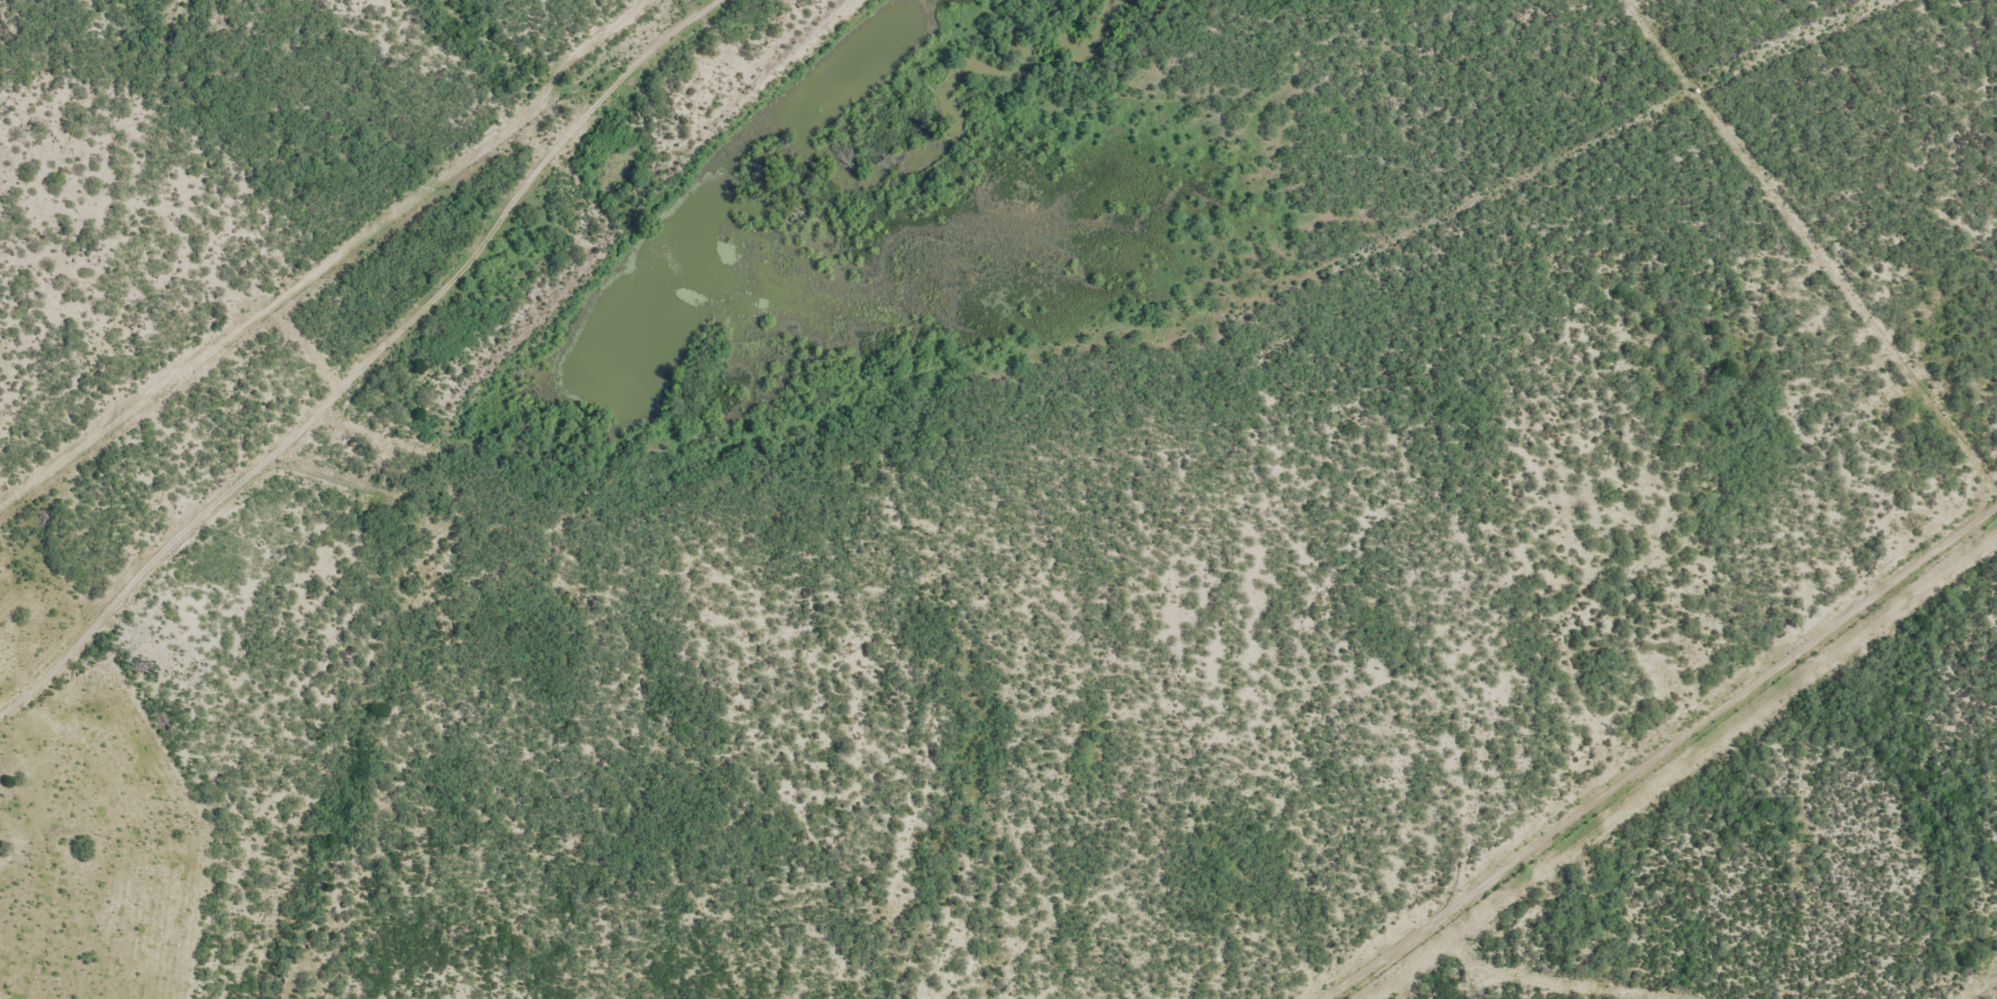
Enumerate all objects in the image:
road: (345, 272)
road: (150, 638)

